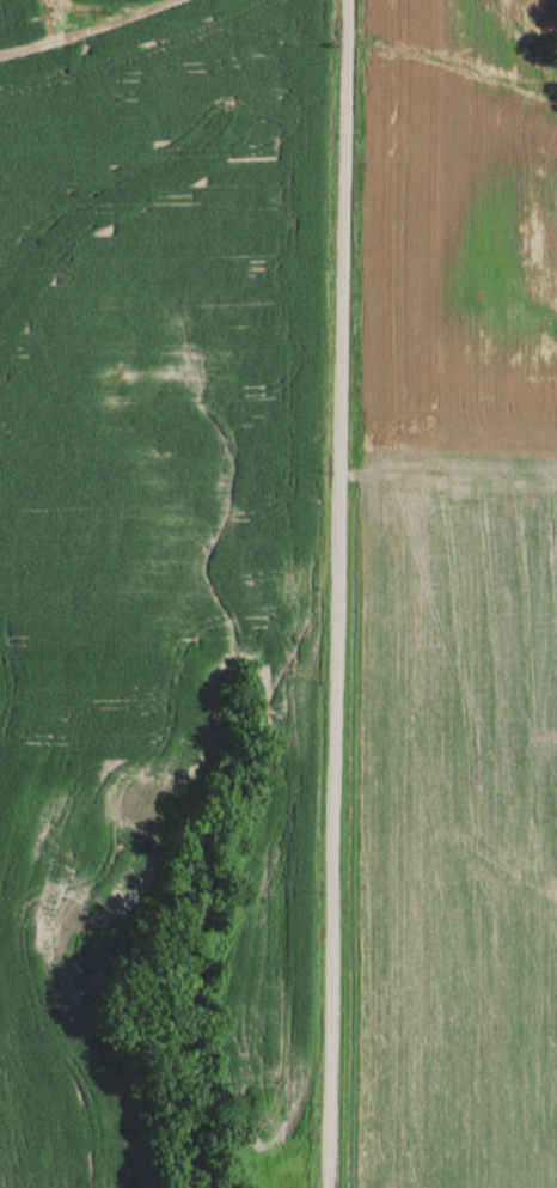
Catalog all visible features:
road: (339, 593)

